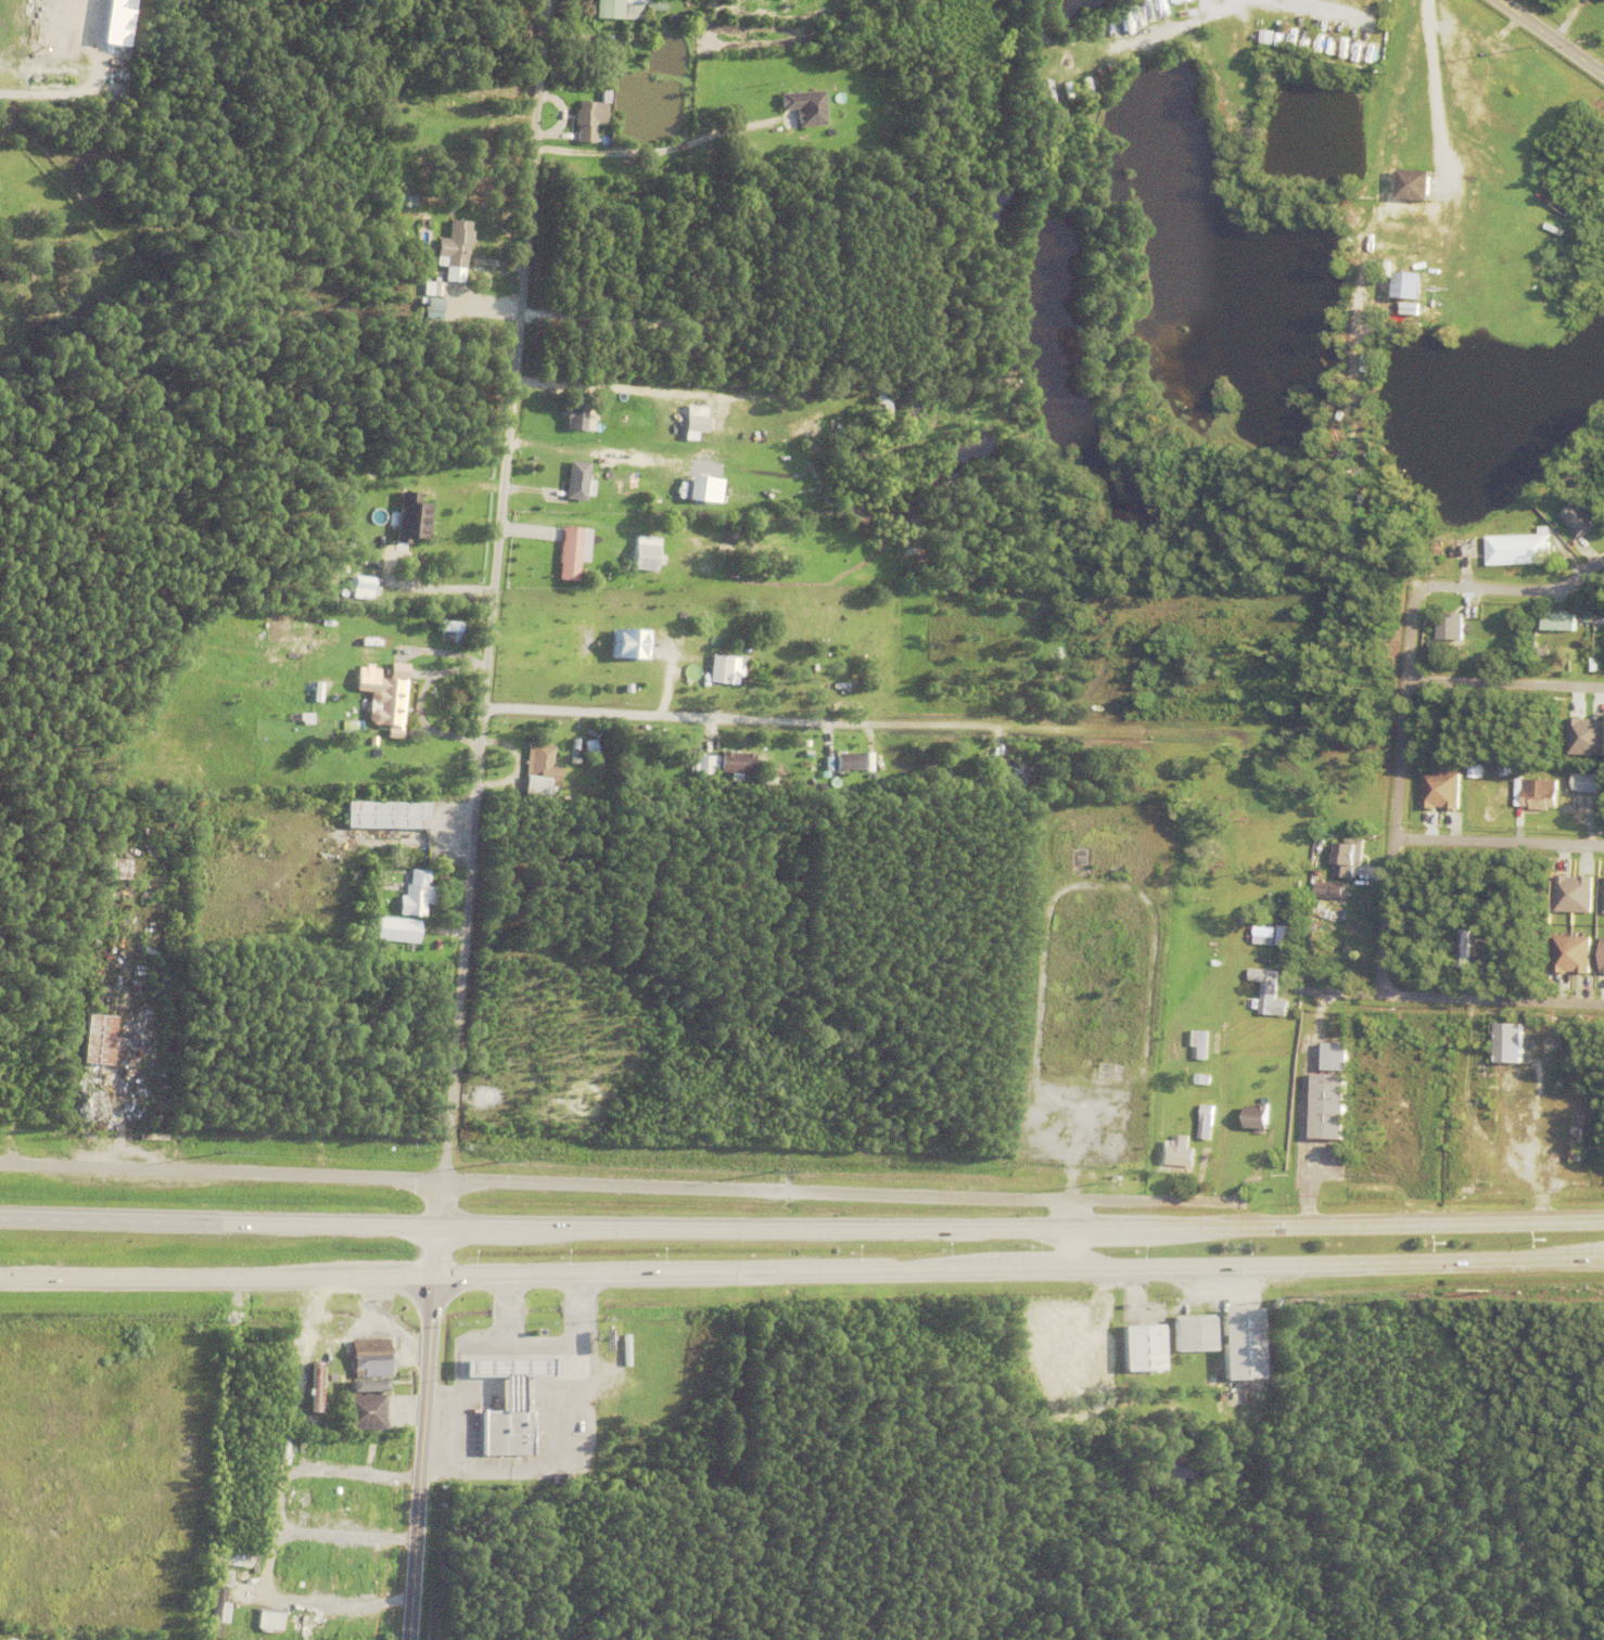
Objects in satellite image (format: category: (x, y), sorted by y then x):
building: (636, 1)
building: (1163, 2)
building: (625, 8)
building: (607, 10)
building: (680, 26)
building: (991, 26)
building: (1269, 37)
road: (1550, 38)
building: (641, 61)
building: (1395, 78)
building: (807, 80)
building: (790, 88)
building: (368, 90)
building: (1393, 95)
building: (603, 97)
building: (1058, 102)
building: (805, 108)
building: (1442, 113)
building: (1449, 115)
building: (587, 121)
building: (1386, 148)
building: (1429, 149)
building: (1410, 185)
building: (455, 245)
building: (437, 291)
building: (763, 360)
building: (883, 398)
building: (577, 412)
building: (696, 421)
building: (576, 482)
building: (701, 488)
building: (406, 489)
building: (1574, 517)
building: (411, 521)
building: (1364, 535)
building: (1517, 548)
building: (570, 555)
building: (645, 555)
building: (1378, 573)
building: (365, 586)
road: (1516, 591)
road: (491, 612)
building: (1600, 617)
building: (1561, 624)
building: (1448, 626)
building: (448, 633)
building: (628, 645)
building: (432, 649)
building: (809, 668)
building: (583, 670)
building: (720, 671)
building: (399, 672)
building: (704, 675)
road: (1506, 686)
building: (627, 690)
building: (383, 702)
building: (1463, 709)
building: (306, 717)
road: (862, 722)
building: (1584, 735)
building: (523, 739)
building: (774, 746)
building: (588, 751)
building: (815, 751)
building: (560, 756)
building: (844, 760)
building: (539, 761)
building: (735, 766)
building: (703, 767)
road: (1403, 767)
building: (997, 768)
building: (804, 776)
building: (1583, 782)
building: (1437, 789)
building: (536, 790)
building: (1537, 793)
building: (382, 816)
road: (1501, 844)
building: (1349, 860)
building: (1113, 871)
building: (114, 872)
building: (1569, 894)
building: (1332, 895)
building: (417, 896)
building: (1602, 896)
building: (408, 922)
building: (432, 922)
building: (391, 936)
building: (1268, 936)
building: (1461, 947)
building: (1467, 952)
building: (1568, 953)
building: (1600, 954)
building: (1355, 971)
building: (1266, 989)
road: (1472, 1001)
building: (1538, 1028)
building: (1195, 1042)
building: (98, 1043)
building: (1333, 1055)
building: (1505, 1072)
building: (1200, 1078)
building: (1326, 1106)
building: (1256, 1116)
building: (1205, 1120)
road: (1277, 1129)
building: (1562, 1149)
building: (1175, 1152)
road: (622, 1186)
road: (220, 1219)
road: (1022, 1229)
road: (1071, 1250)
road: (1020, 1270)
road: (217, 1281)
building: (1193, 1340)
building: (297, 1344)
building: (1242, 1349)
building: (1142, 1354)
building: (372, 1361)
building: (341, 1373)
building: (1212, 1381)
building: (359, 1385)
building: (310, 1386)
building: (395, 1388)
building: (364, 1410)
building: (506, 1410)
building: (296, 1412)
building: (322, 1432)
road: (422, 1432)
building: (372, 1457)
building: (559, 1486)
building: (344, 1560)
building: (219, 1578)
building: (305, 1581)
building: (344, 1583)
building: (213, 1613)
building: (270, 1619)
building: (301, 1625)
building: (335, 1627)

